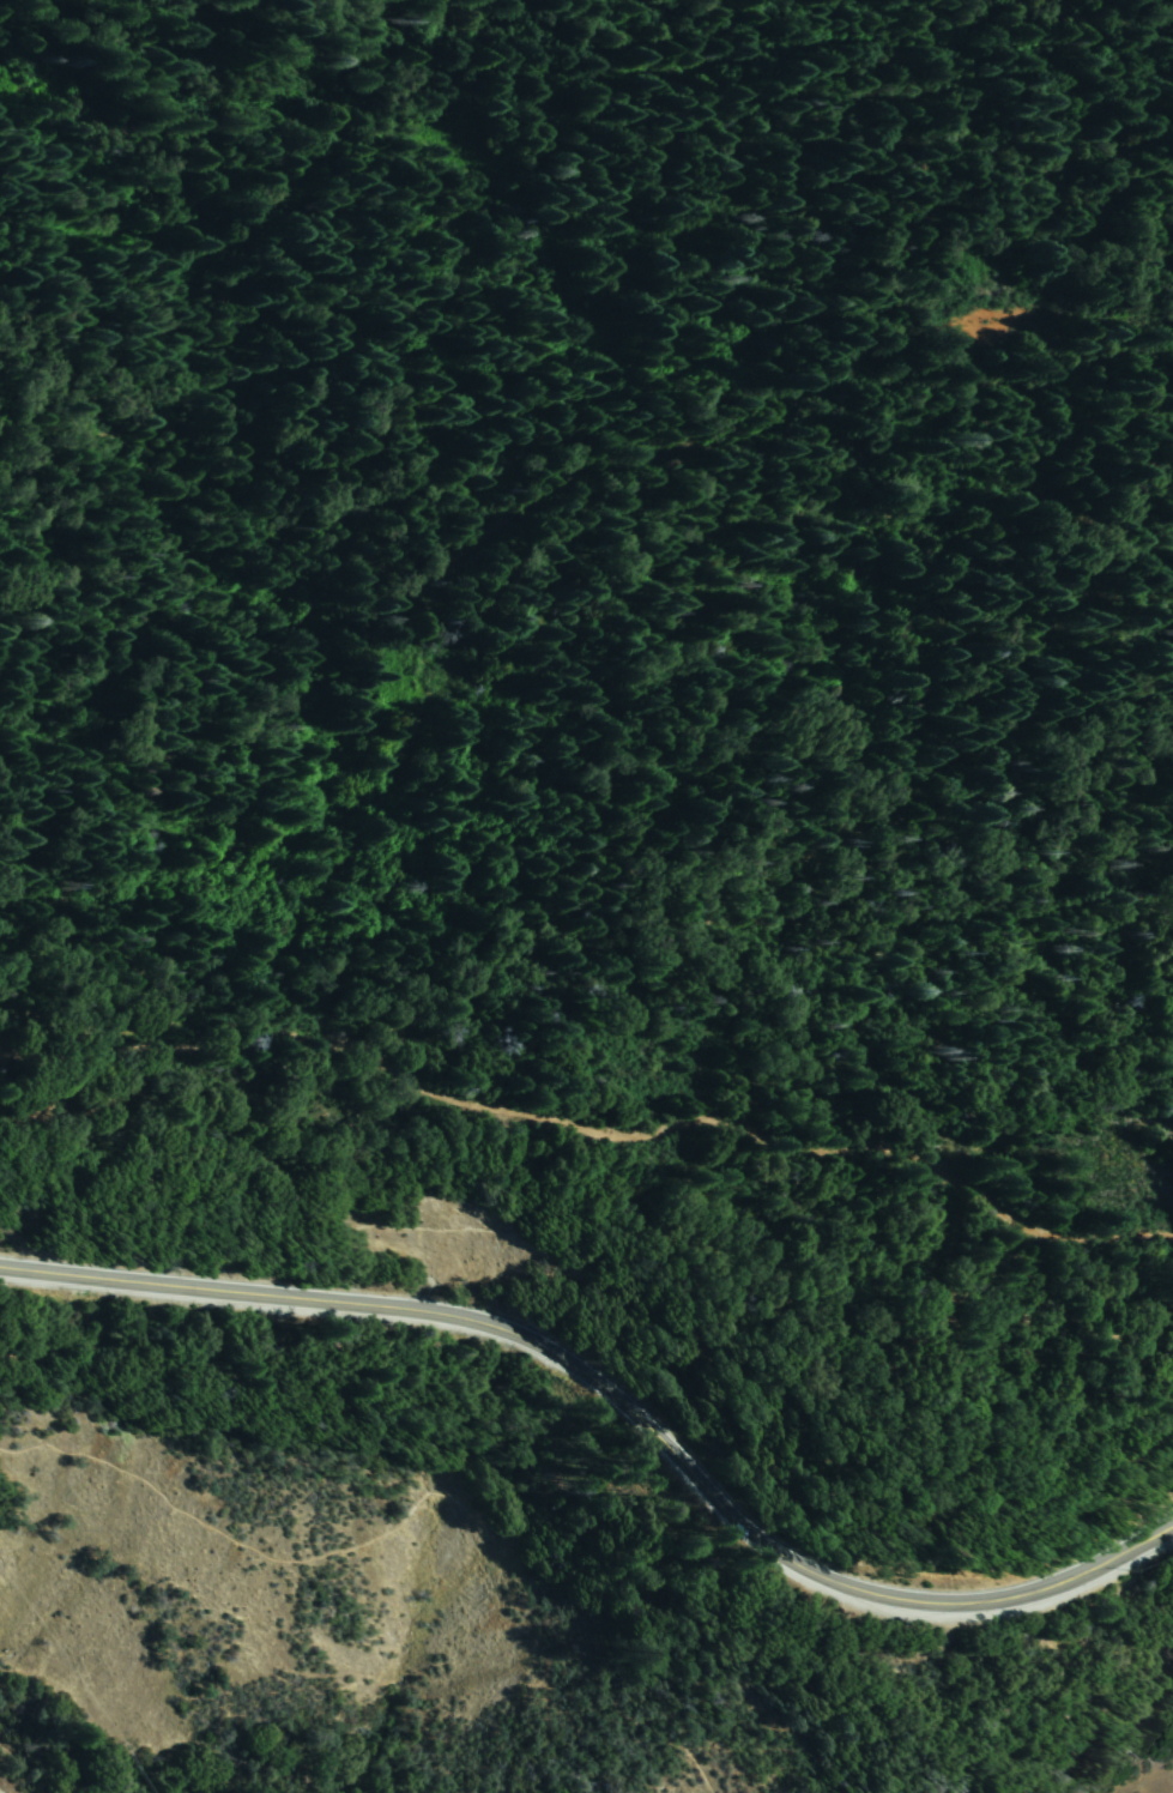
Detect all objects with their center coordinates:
road: (586, 1134)
road: (610, 1290)
road: (619, 1394)
road: (411, 1509)
road: (1166, 1788)

